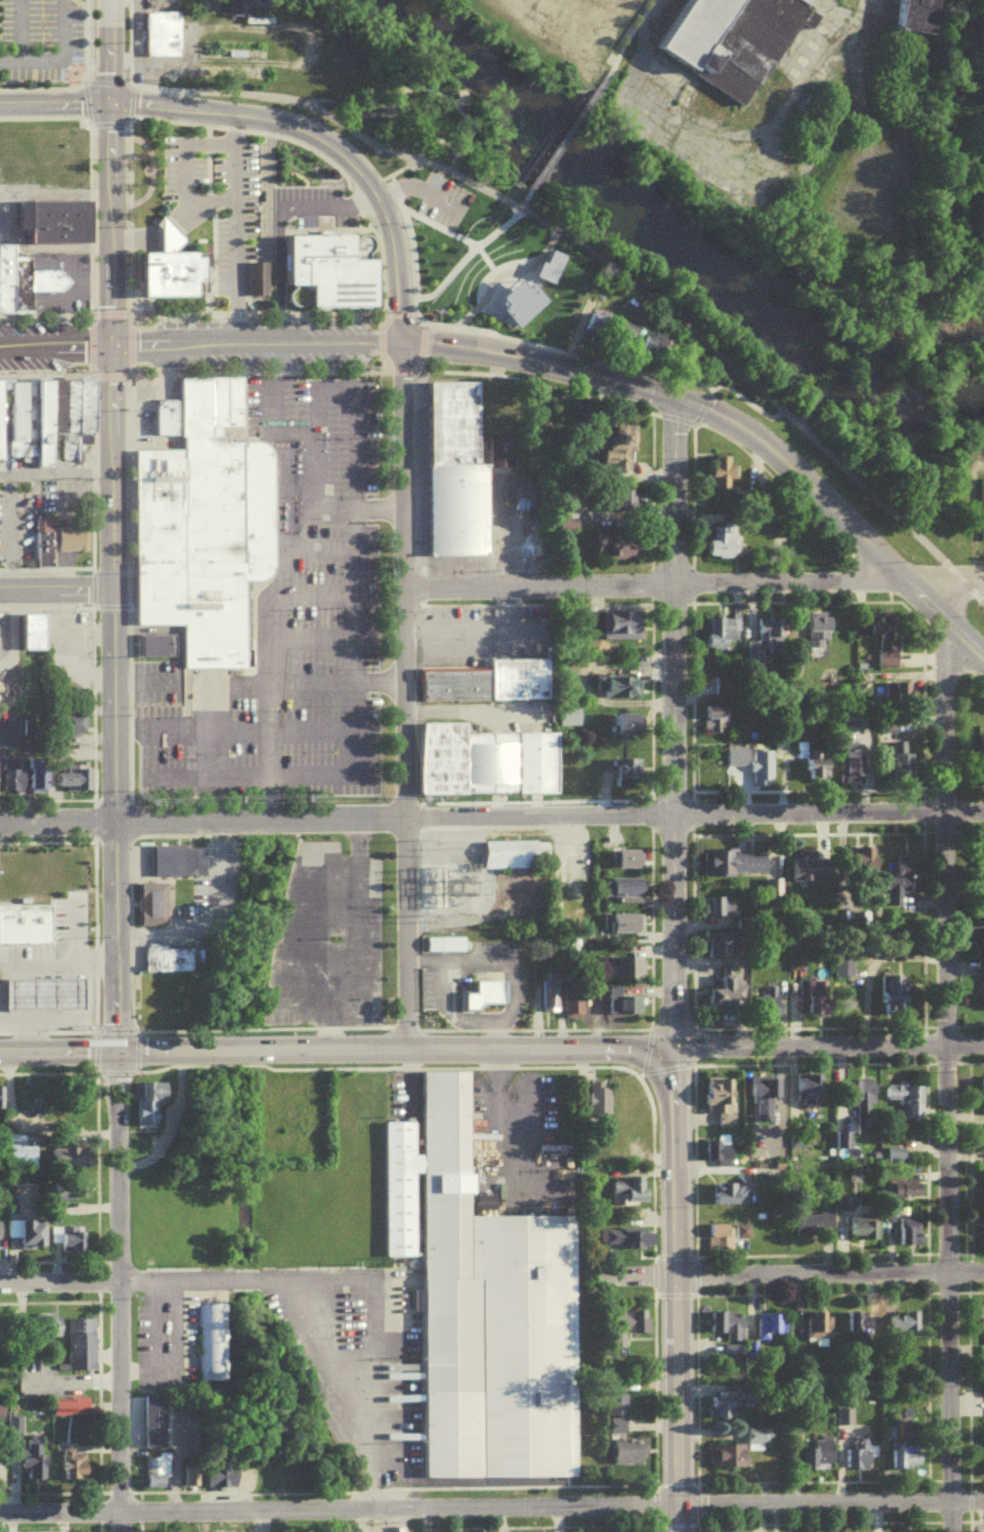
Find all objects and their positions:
building: (237, 5)
building: (918, 15)
building: (586, 26)
road: (13, 29)
parking lot: (135, 34)
building: (158, 34)
road: (626, 36)
parking lot: (38, 38)
road: (82, 39)
road: (129, 42)
building: (734, 43)
road: (51, 52)
road: (42, 87)
road: (406, 87)
road: (274, 97)
road: (85, 98)
road: (454, 98)
road: (129, 102)
traffic signals: (108, 103)
road: (154, 105)
road: (334, 105)
road: (107, 123)
road: (205, 128)
road: (565, 144)
road: (126, 148)
building: (47, 162)
road: (150, 167)
road: (108, 171)
road: (181, 171)
road: (417, 189)
road: (54, 192)
parking lot: (439, 199)
road: (280, 205)
parking lot: (309, 207)
road: (183, 215)
road: (90, 217)
building: (51, 221)
road: (5, 222)
road: (436, 226)
road: (232, 228)
road: (164, 230)
road: (133, 239)
river: (671, 243)
road: (462, 255)
road: (485, 261)
building: (546, 264)
building: (166, 266)
building: (326, 271)
road: (278, 273)
road: (502, 273)
building: (43, 274)
building: (5, 277)
building: (254, 279)
parking lot: (64, 286)
building: (519, 297)
building: (445, 308)
road: (109, 313)
road: (398, 314)
building: (573, 317)
street lamp: (30, 321)
street lamp: (56, 321)
road: (379, 327)
building: (598, 331)
road: (515, 338)
building: (628, 338)
road: (128, 342)
road: (189, 342)
traffic signals: (111, 343)
road: (90, 344)
road: (421, 344)
road: (380, 354)
road: (528, 358)
road: (399, 368)
road: (254, 369)
street lamp: (34, 374)
street lamp: (60, 374)
road: (109, 374)
road: (534, 383)
road: (331, 387)
road: (765, 392)
road: (698, 406)
building: (54, 407)
building: (2, 408)
building: (82, 412)
building: (164, 416)
road: (667, 417)
building: (14, 418)
building: (67, 418)
building: (35, 420)
road: (721, 436)
building: (617, 444)
building: (497, 451)
street lamp: (95, 454)
street lamp: (126, 454)
building: (719, 468)
road: (91, 470)
building: (452, 472)
road: (55, 474)
building: (517, 490)
parking lot: (60, 491)
street lamp: (96, 491)
street lamp: (126, 491)
road: (649, 493)
building: (627, 506)
building: (977, 506)
road: (350, 509)
road: (964, 516)
road: (837, 517)
parking lot: (16, 518)
building: (206, 521)
road: (7, 528)
street lamp: (96, 530)
street lamp: (127, 530)
building: (70, 537)
building: (720, 538)
building: (41, 540)
road: (975, 540)
building: (615, 542)
road: (315, 546)
street lamp: (96, 564)
street lamp: (126, 565)
road: (403, 573)
road: (868, 575)
road: (689, 582)
road: (942, 582)
road: (267, 584)
road: (92, 585)
road: (128, 585)
road: (652, 585)
road: (57, 588)
road: (650, 588)
road: (310, 591)
road: (348, 596)
road: (793, 602)
road: (534, 603)
road: (264, 612)
road: (907, 612)
parking lot: (289, 625)
road: (246, 626)
building: (29, 631)
building: (627, 631)
building: (820, 635)
building: (38, 637)
building: (722, 637)
road: (306, 638)
building: (155, 645)
building: (768, 645)
building: (884, 646)
road: (948, 650)
building: (305, 663)
road: (178, 670)
road: (145, 671)
road: (975, 675)
building: (516, 680)
parking lot: (155, 681)
building: (451, 683)
road: (298, 684)
building: (620, 691)
road: (690, 695)
building: (898, 698)
road: (182, 700)
road: (650, 700)
road: (93, 701)
road: (921, 708)
building: (715, 719)
building: (572, 720)
road: (673, 723)
building: (75, 728)
road: (243, 730)
building: (630, 731)
road: (348, 732)
road: (264, 752)
building: (482, 759)
building: (768, 768)
building: (858, 769)
building: (9, 773)
building: (910, 773)
building: (37, 774)
building: (820, 774)
building: (73, 776)
building: (627, 776)
road: (244, 780)
building: (42, 784)
road: (805, 791)
road: (111, 796)
road: (534, 799)
road: (921, 812)
road: (650, 814)
road: (690, 814)
road: (94, 818)
road: (492, 818)
road: (968, 833)
road: (936, 834)
road: (806, 835)
road: (111, 838)
road: (47, 840)
building: (511, 851)
building: (626, 856)
building: (175, 858)
building: (736, 868)
building: (863, 868)
building: (452, 869)
power substation: (452, 869)
building: (813, 874)
building: (26, 879)
building: (903, 885)
building: (983, 885)
building: (630, 893)
building: (153, 901)
building: (720, 911)
building: (982, 920)
building: (24, 923)
gas station: (24, 923)
building: (628, 928)
road: (71, 929)
road: (649, 929)
road: (691, 931)
road: (93, 933)
road: (115, 937)
parking lot: (326, 938)
building: (447, 949)
building: (716, 950)
road: (57, 964)
building: (170, 964)
building: (844, 969)
building: (631, 973)
building: (39, 992)
building: (87, 994)
building: (729, 996)
building: (488, 1001)
building: (552, 1002)
building: (820, 1003)
building: (900, 1004)
building: (769, 1006)
building: (575, 1007)
building: (624, 1007)
road: (131, 1020)
road: (27, 1022)
building: (52, 1024)
road: (405, 1025)
road: (670, 1026)
road: (114, 1027)
road: (534, 1027)
road: (806, 1028)
road: (828, 1046)
road: (645, 1047)
road: (692, 1047)
road: (137, 1048)
road: (337, 1048)
traffic signals: (115, 1051)
road: (807, 1065)
road: (477, 1066)
road: (662, 1067)
road: (944, 1079)
building: (808, 1094)
building: (147, 1099)
building: (765, 1100)
building: (983, 1101)
building: (721, 1102)
building: (864, 1102)
building: (909, 1104)
building: (1, 1105)
building: (842, 1121)
building: (720, 1155)
road: (692, 1162)
building: (68, 1163)
building: (983, 1176)
building: (914, 1194)
building: (630, 1195)
building: (65, 1196)
building: (732, 1200)
building: (814, 1229)
building: (864, 1235)
building: (30, 1238)
building: (908, 1241)
building: (721, 1243)
building: (70, 1244)
building: (1, 1246)
road: (830, 1277)
road: (188, 1283)
road: (677, 1289)
building: (481, 1304)
building: (912, 1325)
building: (47, 1330)
building: (629, 1330)
building: (732, 1331)
building: (819, 1332)
building: (213, 1348)
building: (83, 1349)
road: (379, 1396)
building: (72, 1411)
building: (722, 1412)
building: (2, 1416)
building: (845, 1421)
building: (158, 1427)
building: (740, 1455)
building: (630, 1457)
building: (860, 1457)
building: (824, 1458)
building: (906, 1460)
building: (36, 1465)
building: (76, 1472)
building: (159, 1478)
building: (231, 1483)
road: (492, 1509)

